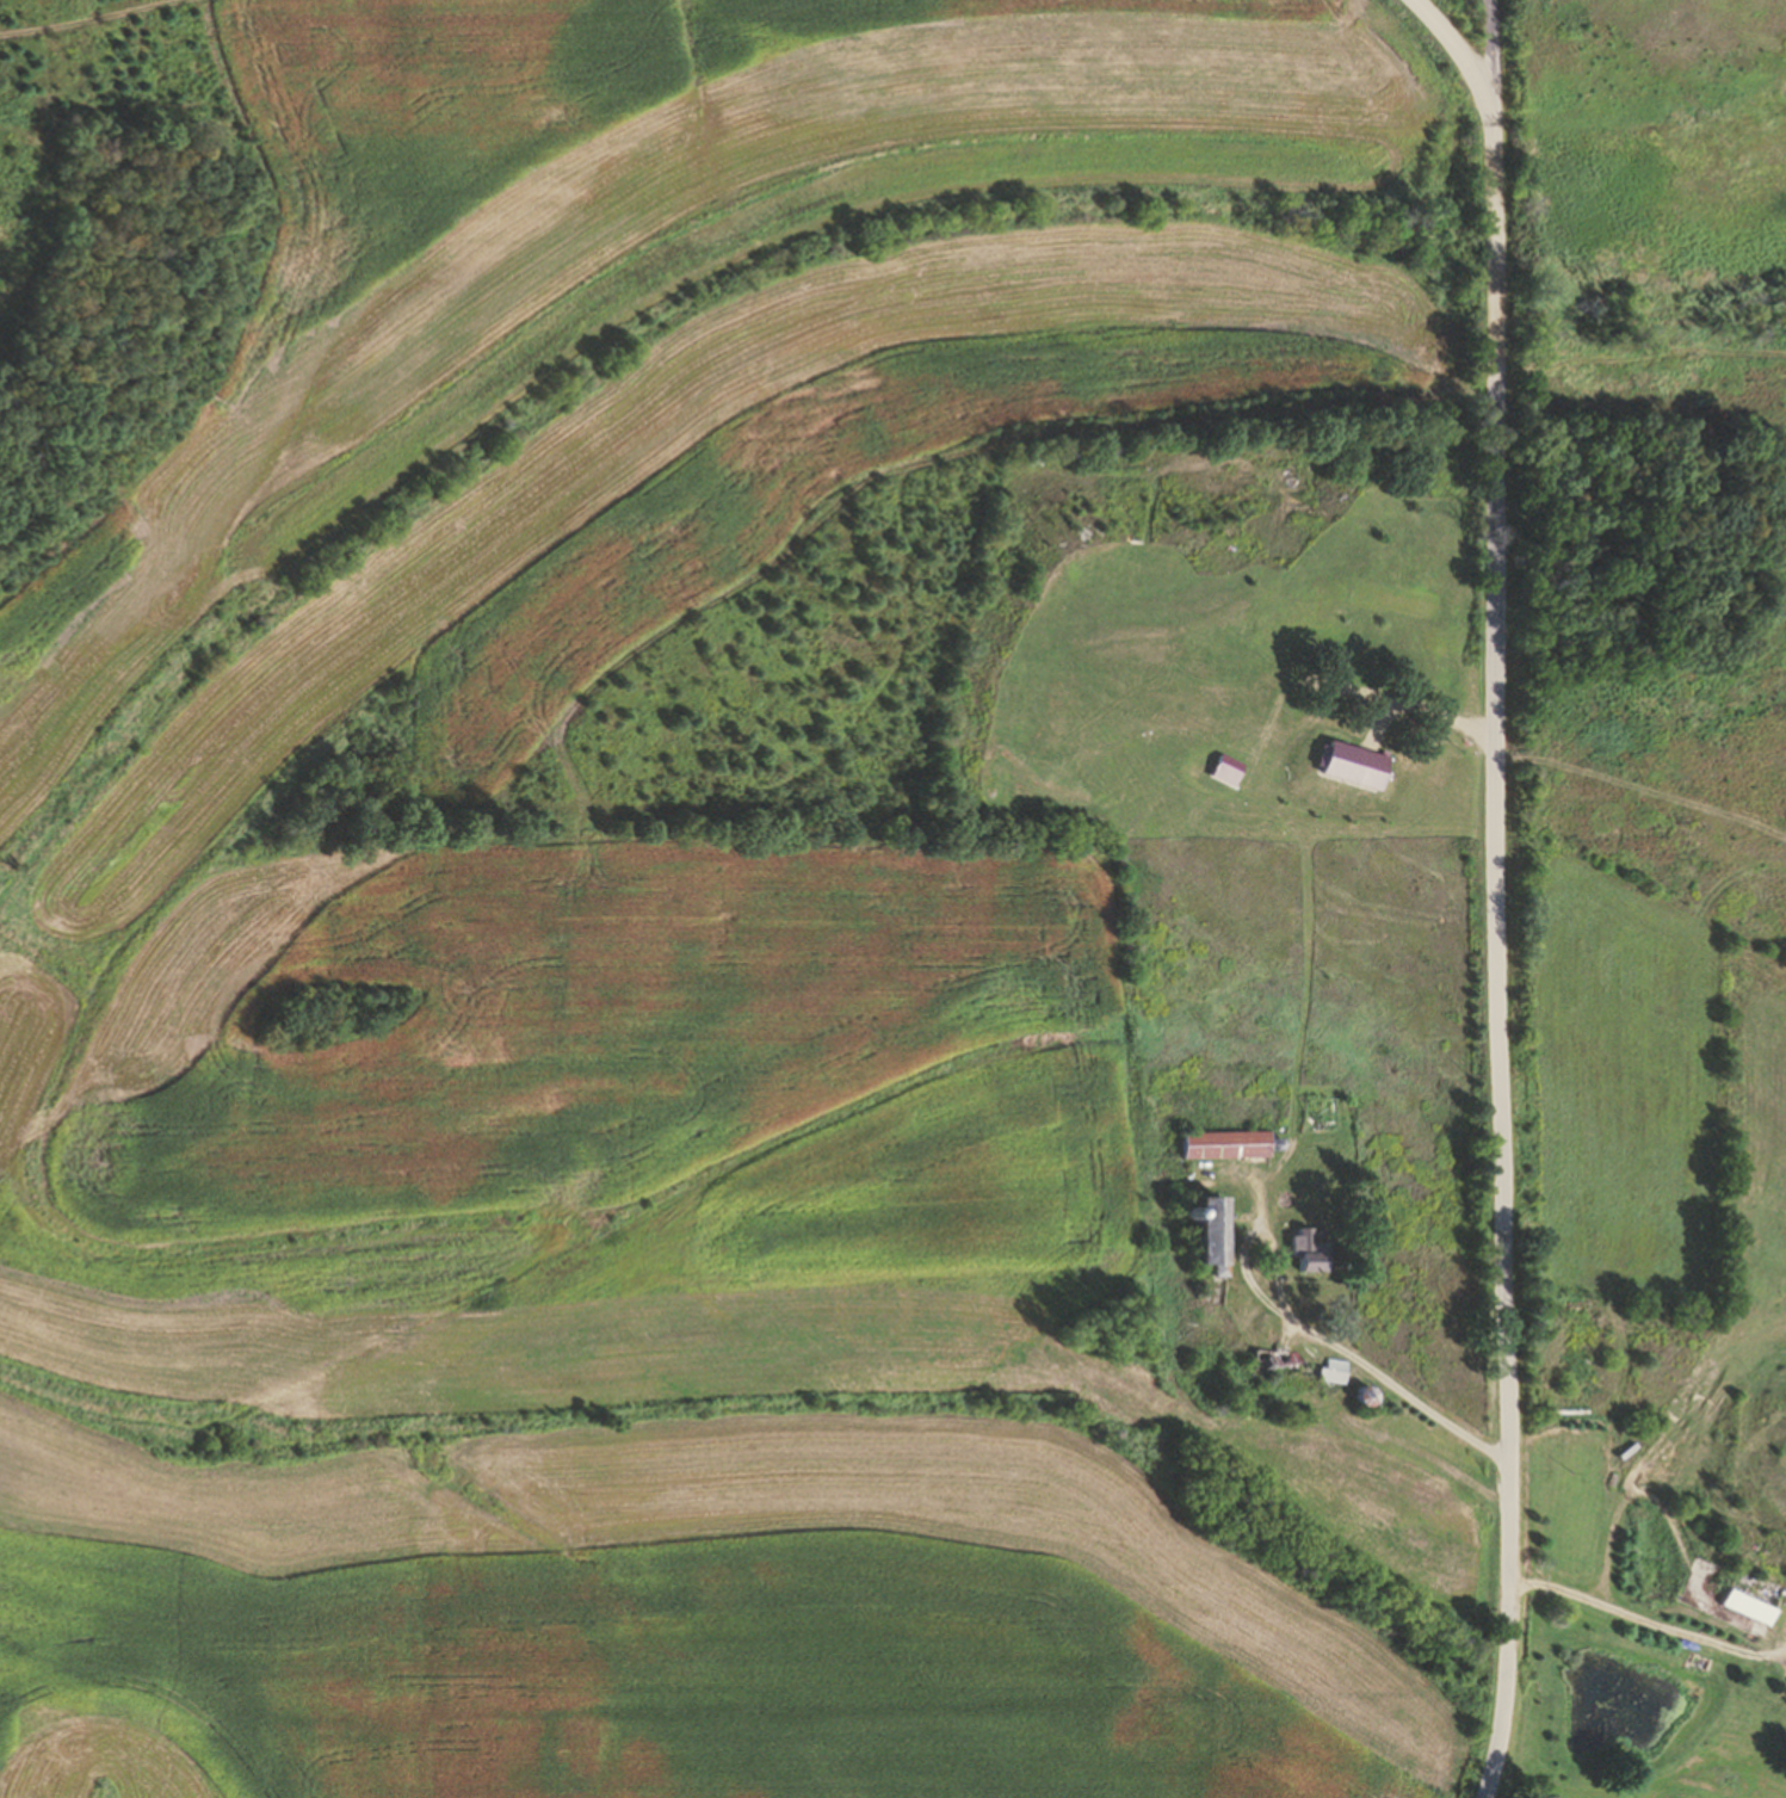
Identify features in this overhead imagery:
road: (1457, 49)
road: (1494, 900)
building: (1220, 1145)
building: (1198, 1231)
building: (1304, 1253)
building: (1268, 1361)
building: (1331, 1372)
building: (1747, 1595)
road: (1640, 1620)

